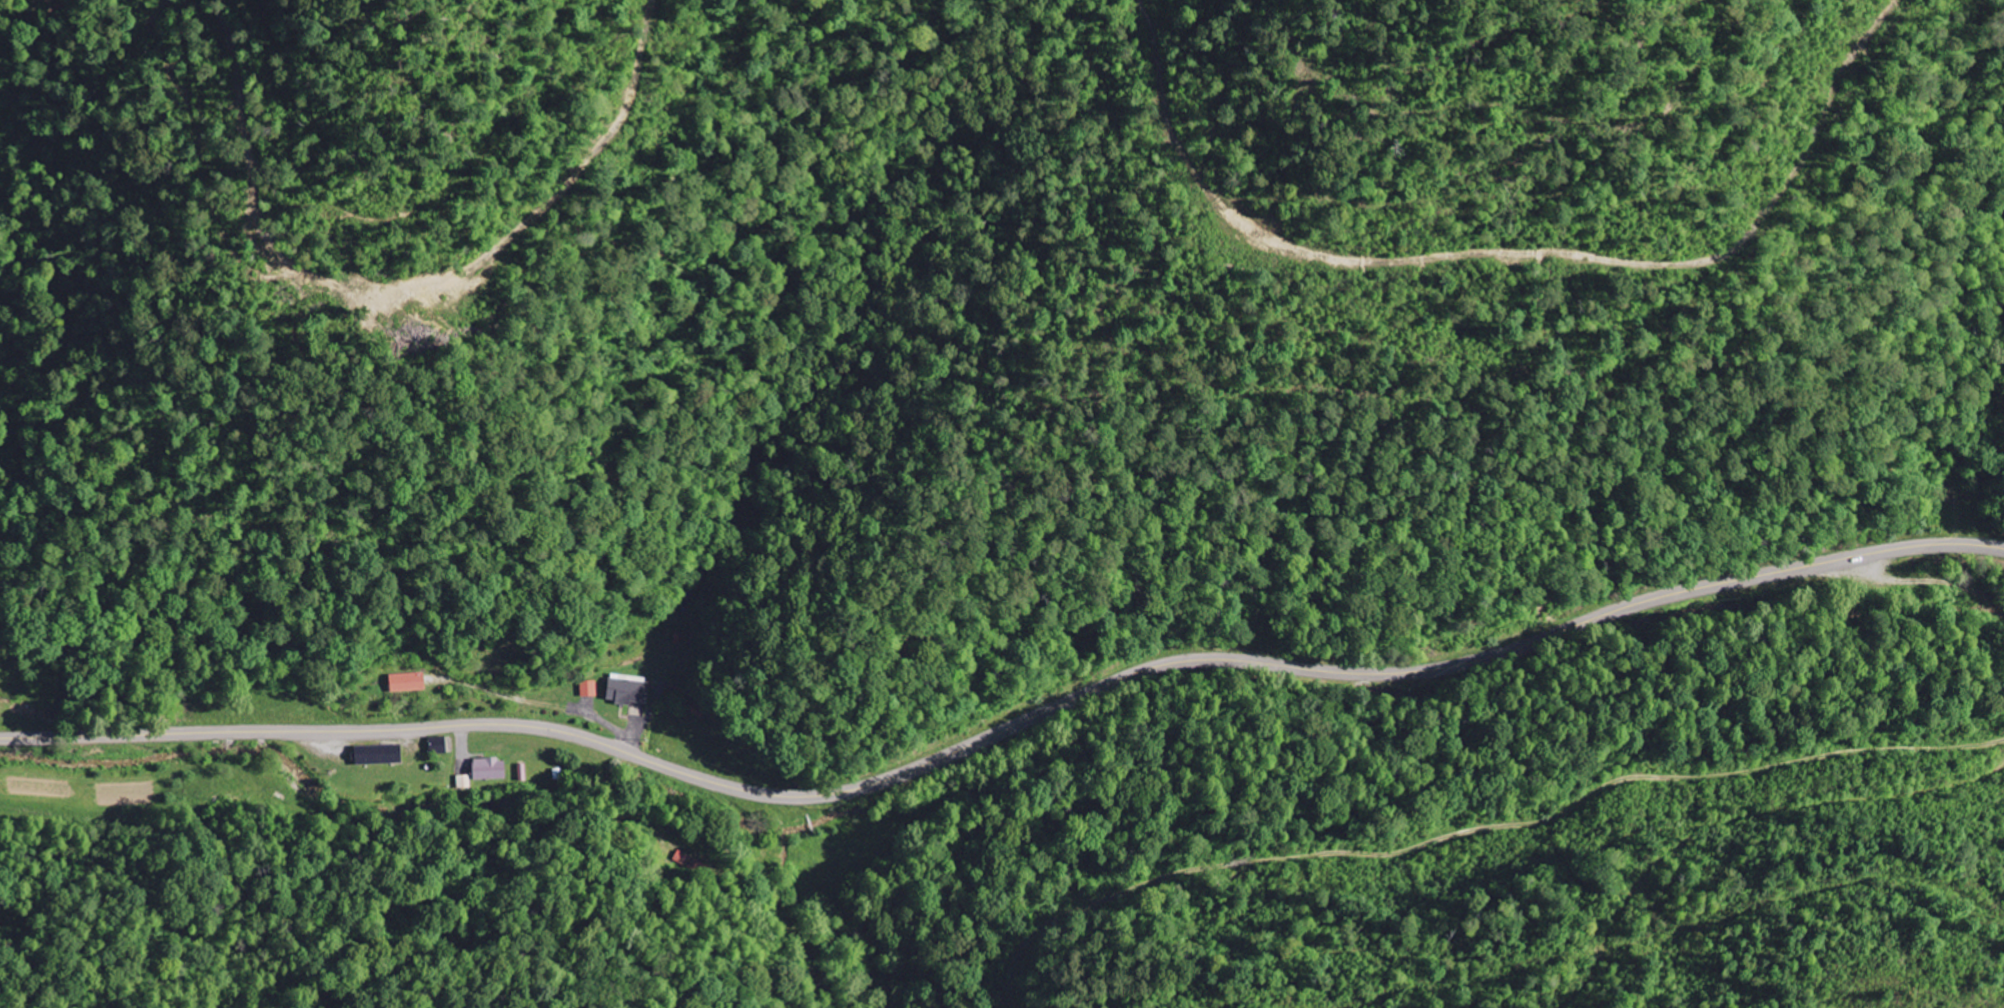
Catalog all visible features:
building: (409, 683)
building: (589, 689)
building: (630, 692)
road: (1006, 729)
building: (381, 755)
building: (491, 769)

